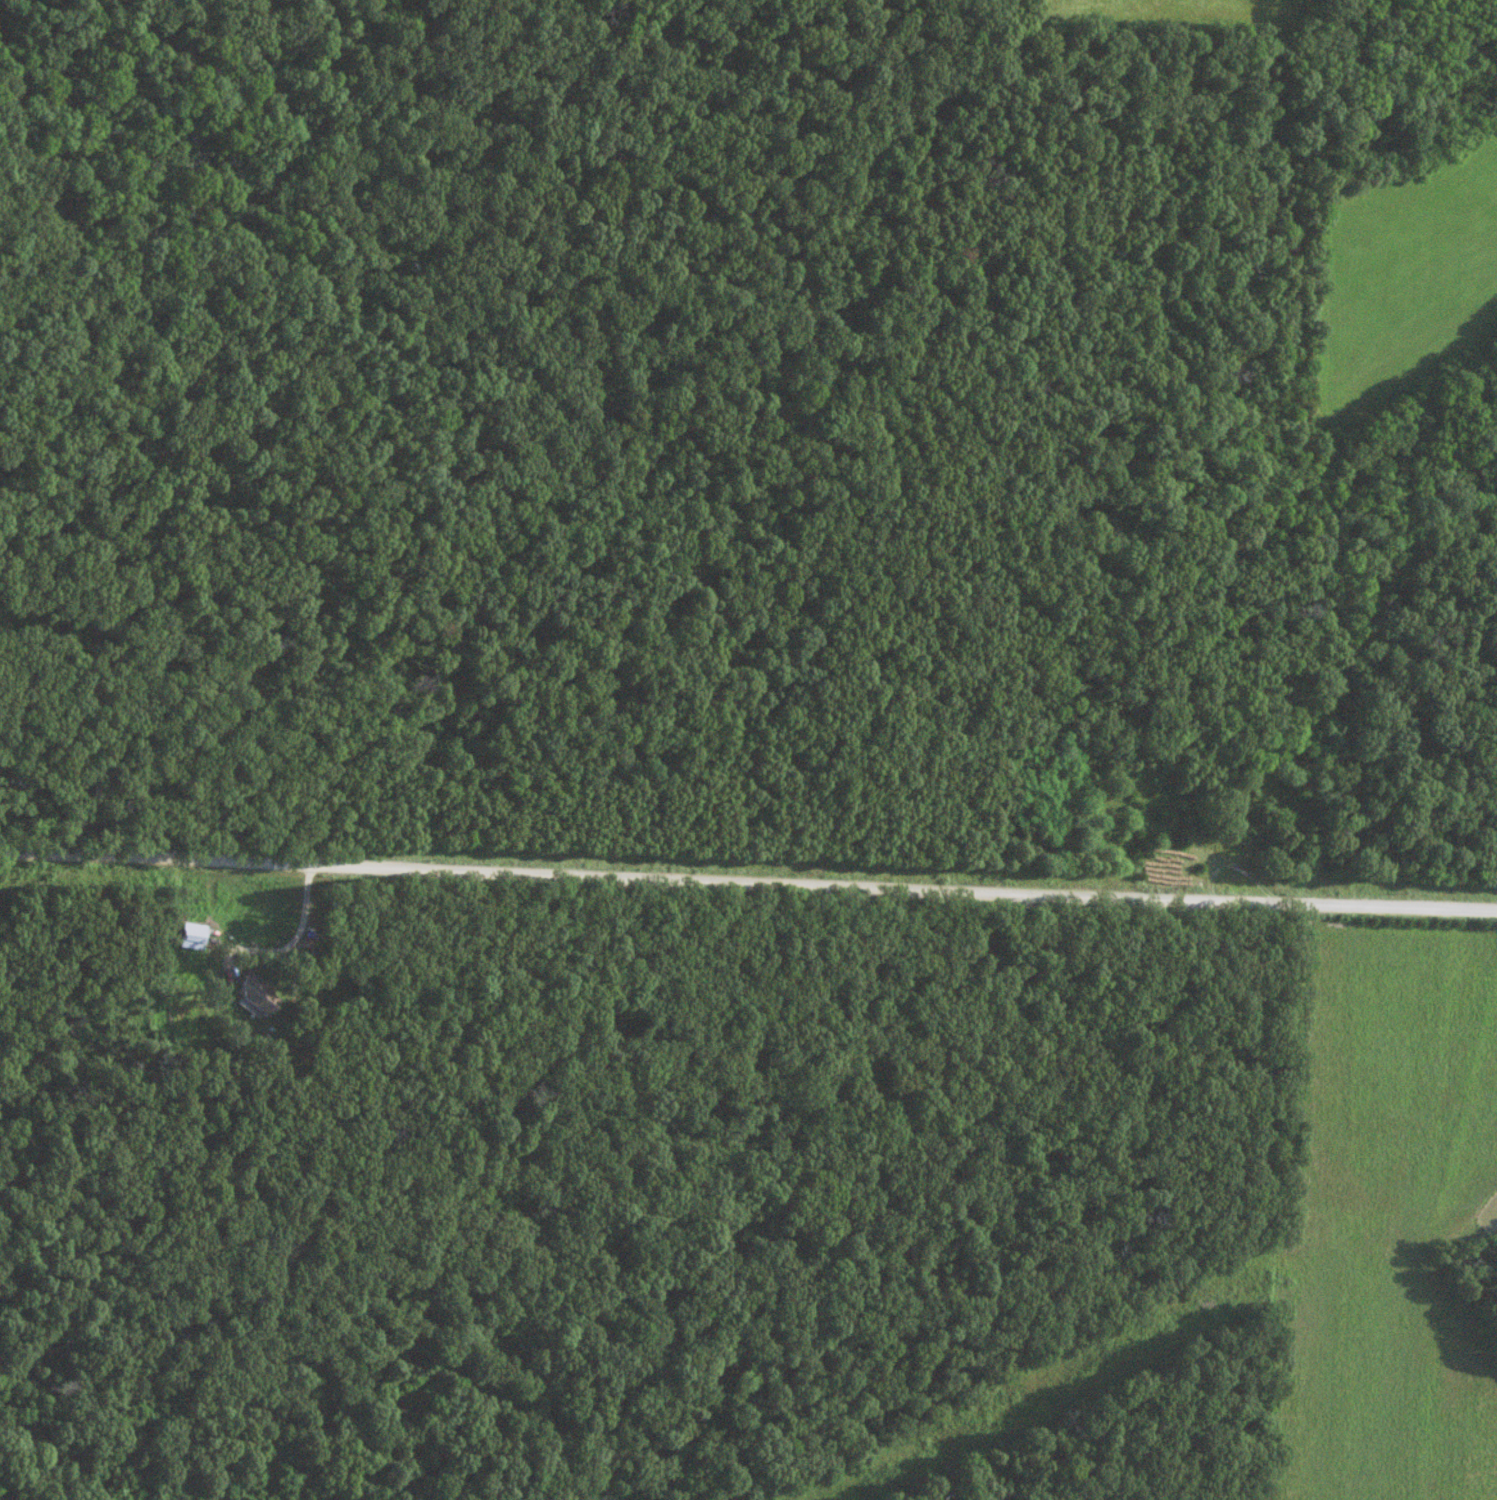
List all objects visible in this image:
road: (7, 864)
road: (748, 880)
building: (192, 937)
road: (261, 945)
building: (254, 996)

